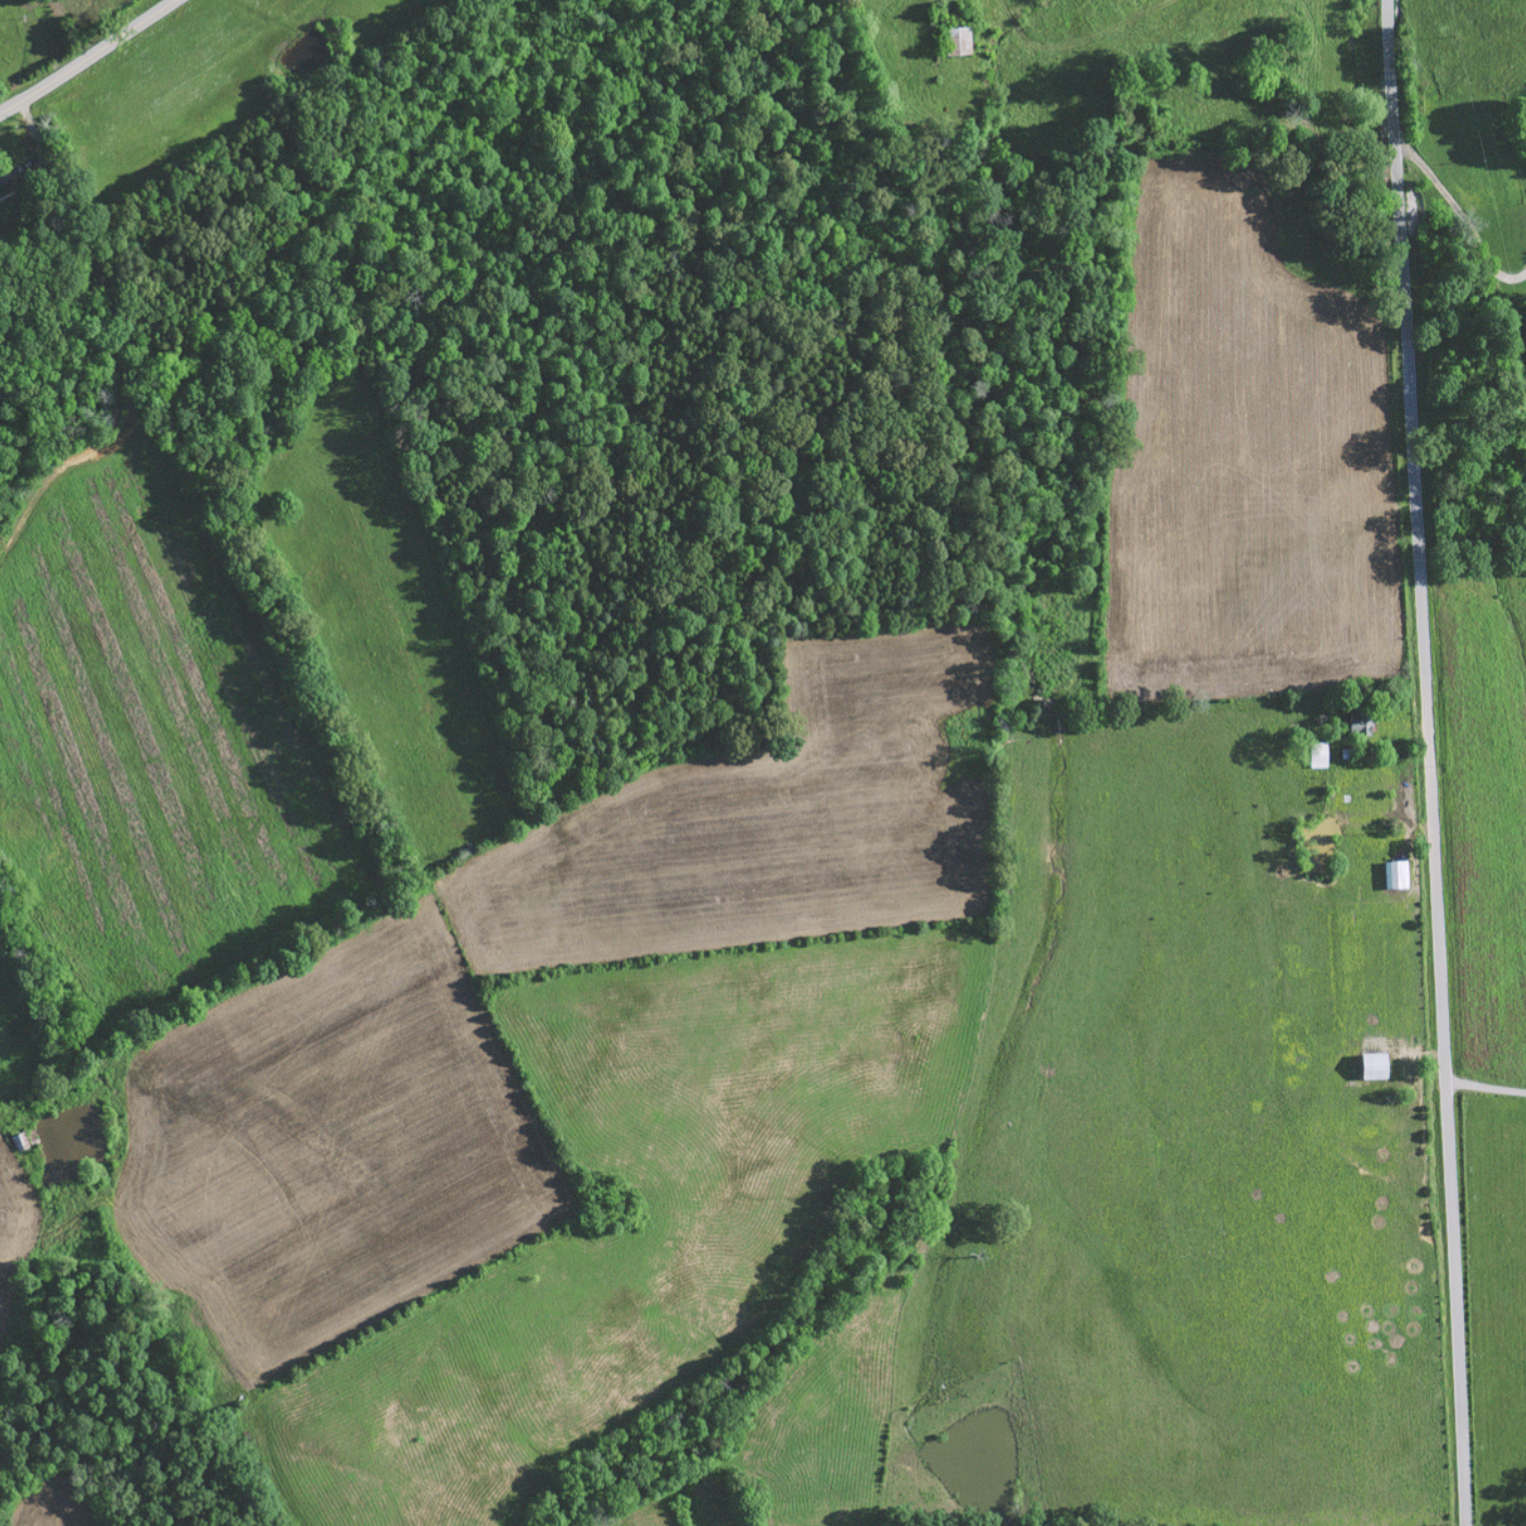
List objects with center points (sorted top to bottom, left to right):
road: (89, 58)
building: (5, 183)
building: (1363, 723)
road: (1432, 762)
building: (1399, 875)
road: (1486, 1057)
building: (1380, 1067)

